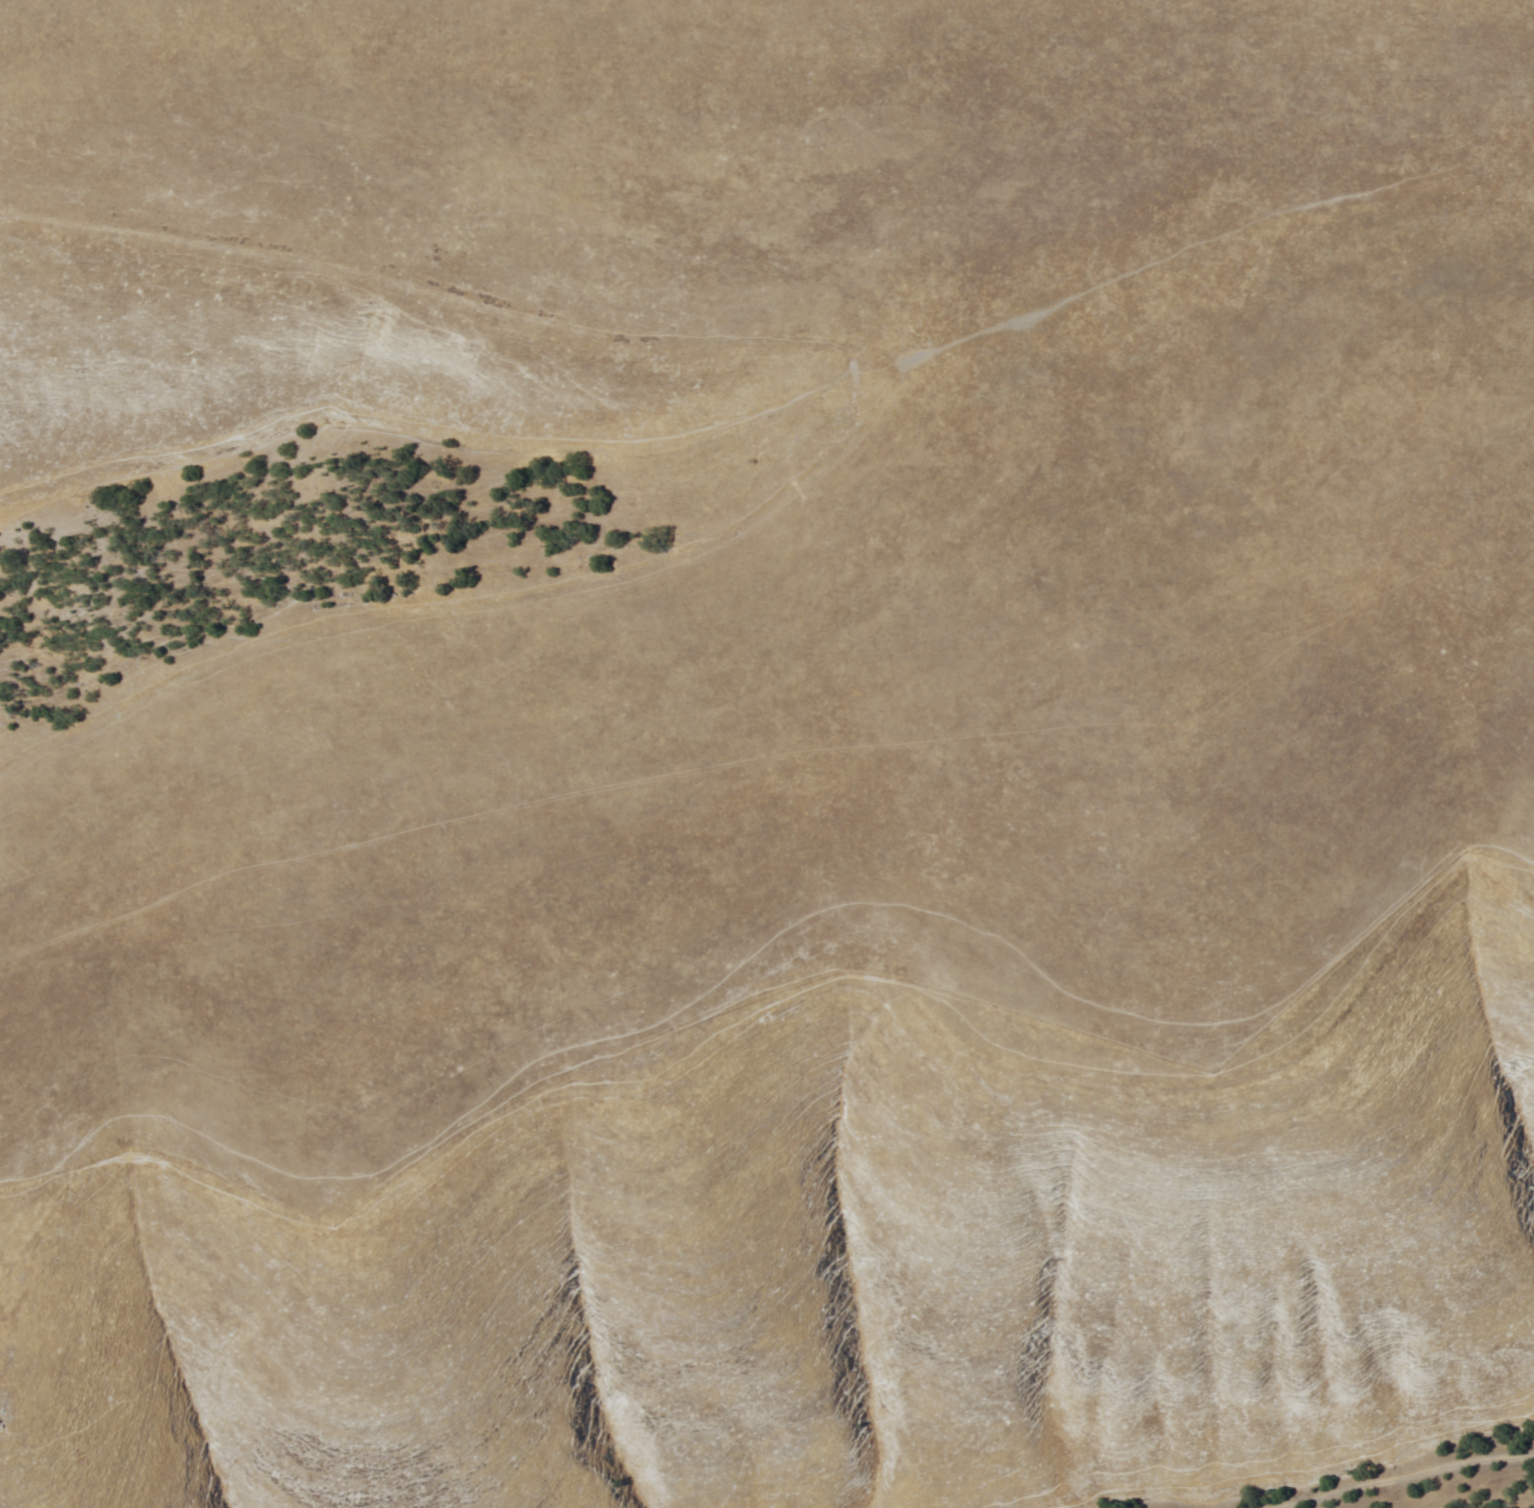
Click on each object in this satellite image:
road: (1523, 1503)

